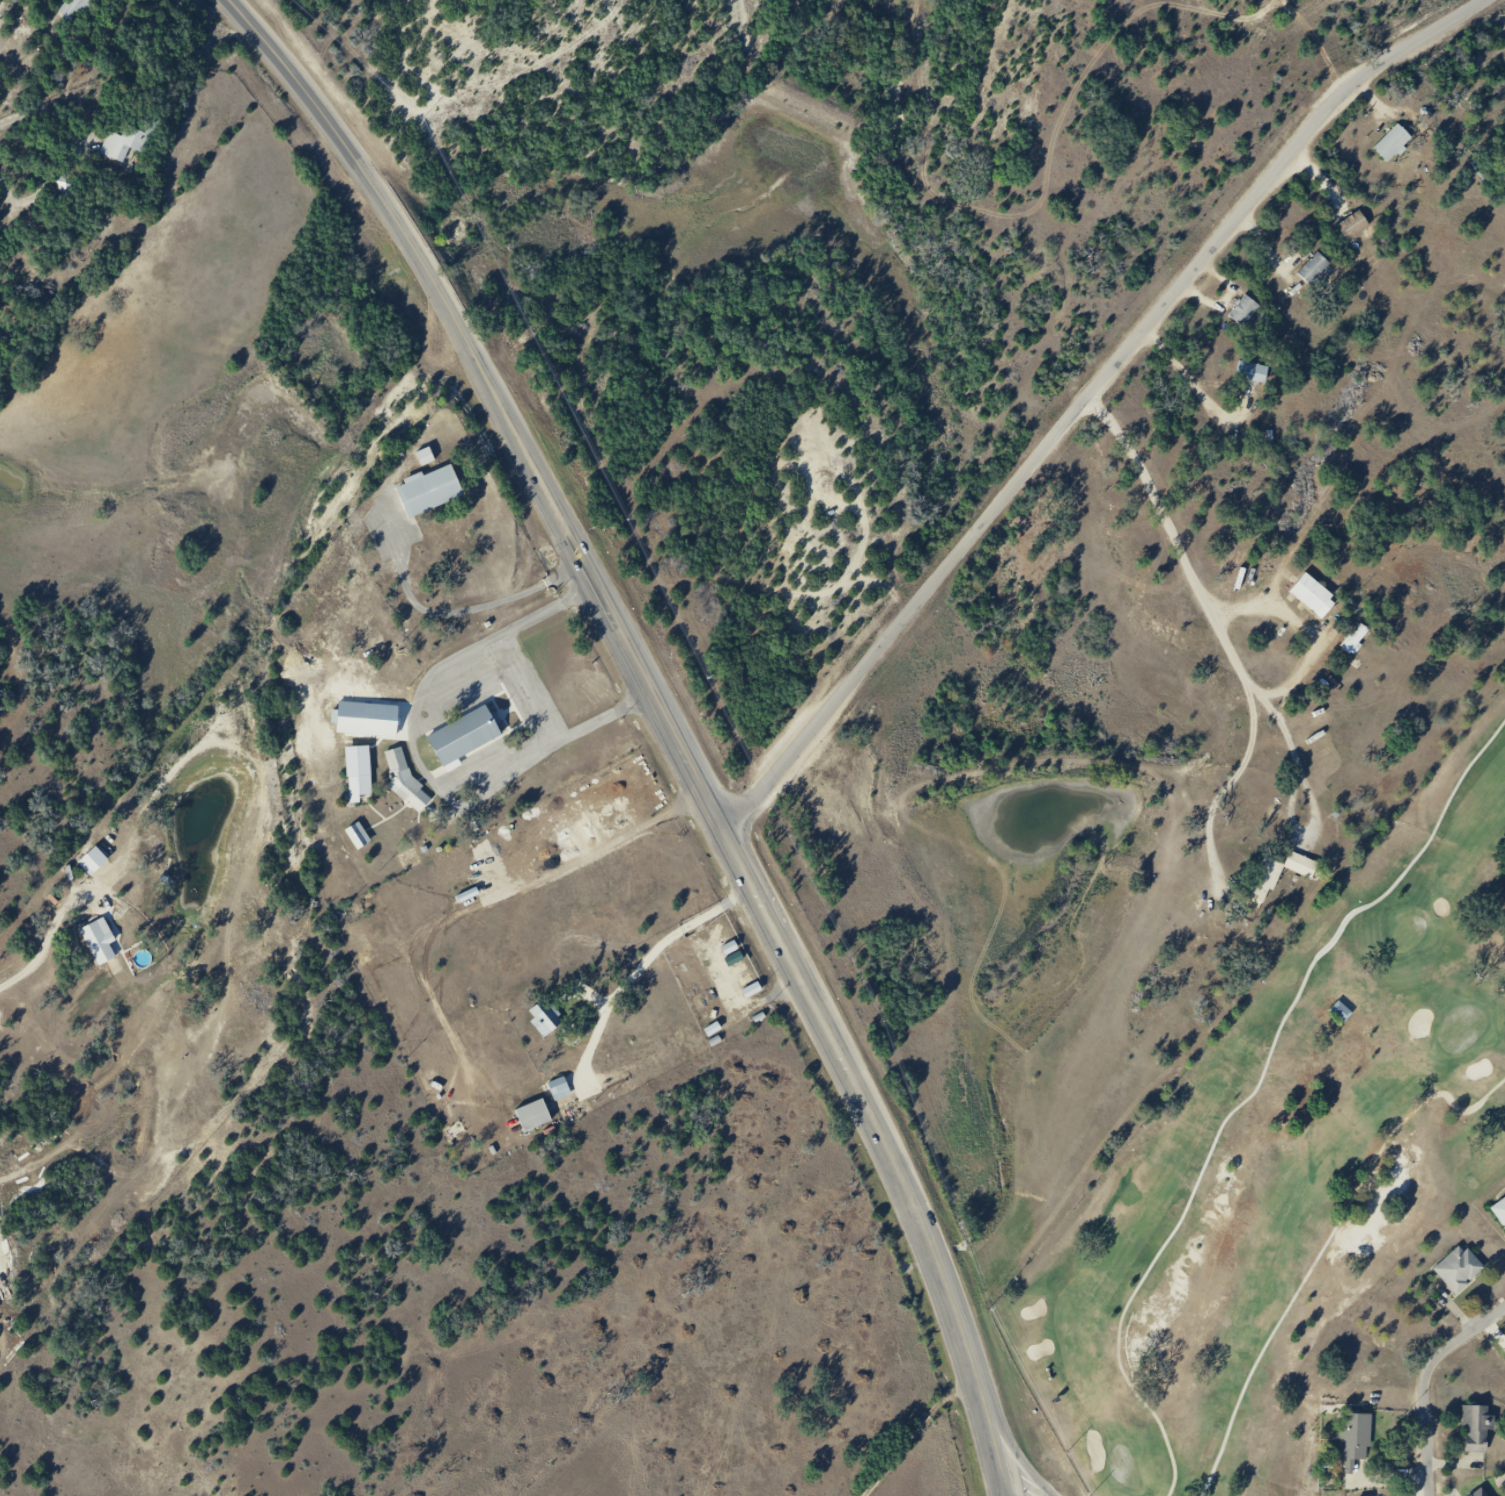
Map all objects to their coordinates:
building: (88, 19)
road: (11, 117)
road: (329, 126)
building: (1397, 143)
building: (132, 150)
building: (65, 184)
building: (1353, 225)
building: (1313, 268)
building: (1243, 310)
building: (1252, 372)
road: (1086, 400)
building: (435, 500)
building: (1319, 601)
road: (1217, 620)
road: (1310, 629)
building: (1353, 638)
road: (527, 690)
road: (462, 692)
building: (360, 717)
parking lot: (543, 718)
building: (464, 735)
road: (494, 759)
road: (420, 764)
road: (1234, 788)
building: (354, 789)
building: (351, 833)
road: (738, 866)
building: (1283, 879)
park: (1408, 934)
building: (1341, 1011)
building: (539, 1016)
park: (1462, 1028)
building: (551, 1085)
road: (1254, 1096)
building: (525, 1113)
park: (1312, 1204)
building: (1502, 1213)
road: (1324, 1246)
building: (1463, 1274)
road: (1431, 1385)
building: (1483, 1432)
road: (913, 1433)
building: (1359, 1444)
park: (1125, 1466)
road: (1012, 1493)
building: (1484, 1494)

